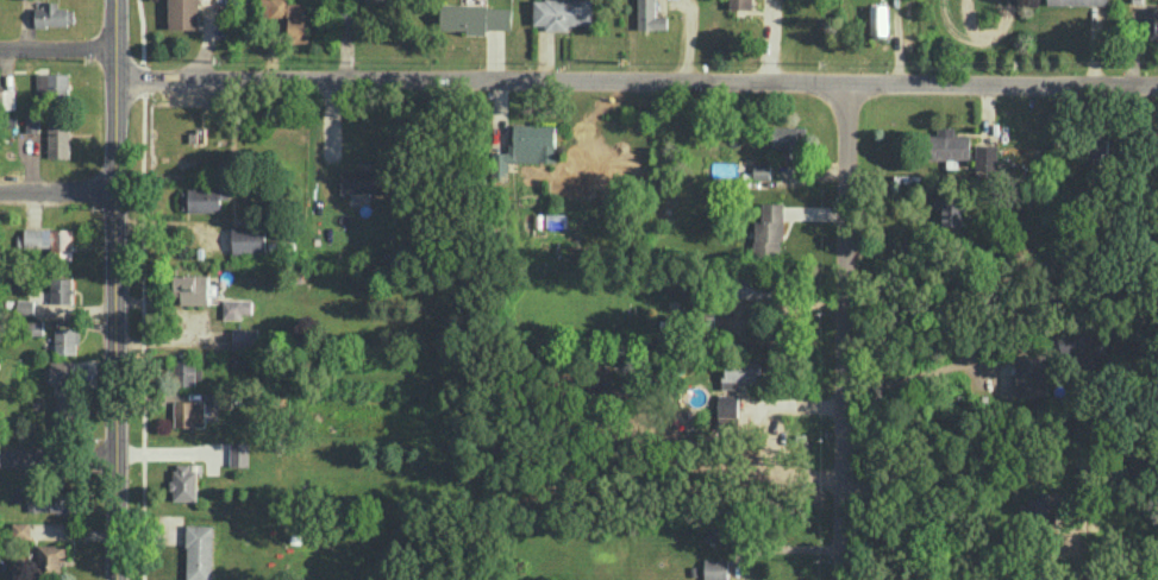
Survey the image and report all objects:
building: (377, 1)
building: (1078, 1)
building: (740, 4)
building: (183, 13)
building: (562, 13)
building: (54, 14)
building: (650, 15)
building: (290, 17)
building: (475, 17)
building: (878, 18)
building: (1151, 18)
road: (207, 43)
road: (58, 48)
road: (607, 81)
road: (1128, 83)
building: (52, 84)
building: (7, 97)
building: (32, 122)
building: (58, 135)
building: (789, 140)
building: (947, 144)
building: (527, 145)
building: (1098, 146)
building: (987, 156)
building: (762, 170)
building: (364, 179)
road: (57, 194)
building: (204, 198)
building: (952, 212)
building: (769, 229)
building: (249, 239)
building: (51, 240)
building: (192, 288)
building: (61, 289)
road: (115, 289)
building: (25, 305)
road: (847, 330)
building: (67, 340)
road: (929, 364)
building: (186, 371)
building: (63, 372)
building: (741, 372)
building: (1031, 374)
building: (727, 404)
building: (64, 410)
building: (189, 412)
building: (239, 453)
road: (57, 455)
building: (184, 483)
building: (37, 500)
building: (63, 502)
building: (1046, 503)
building: (21, 529)
building: (199, 551)
road: (949, 554)
building: (50, 556)
building: (715, 568)

